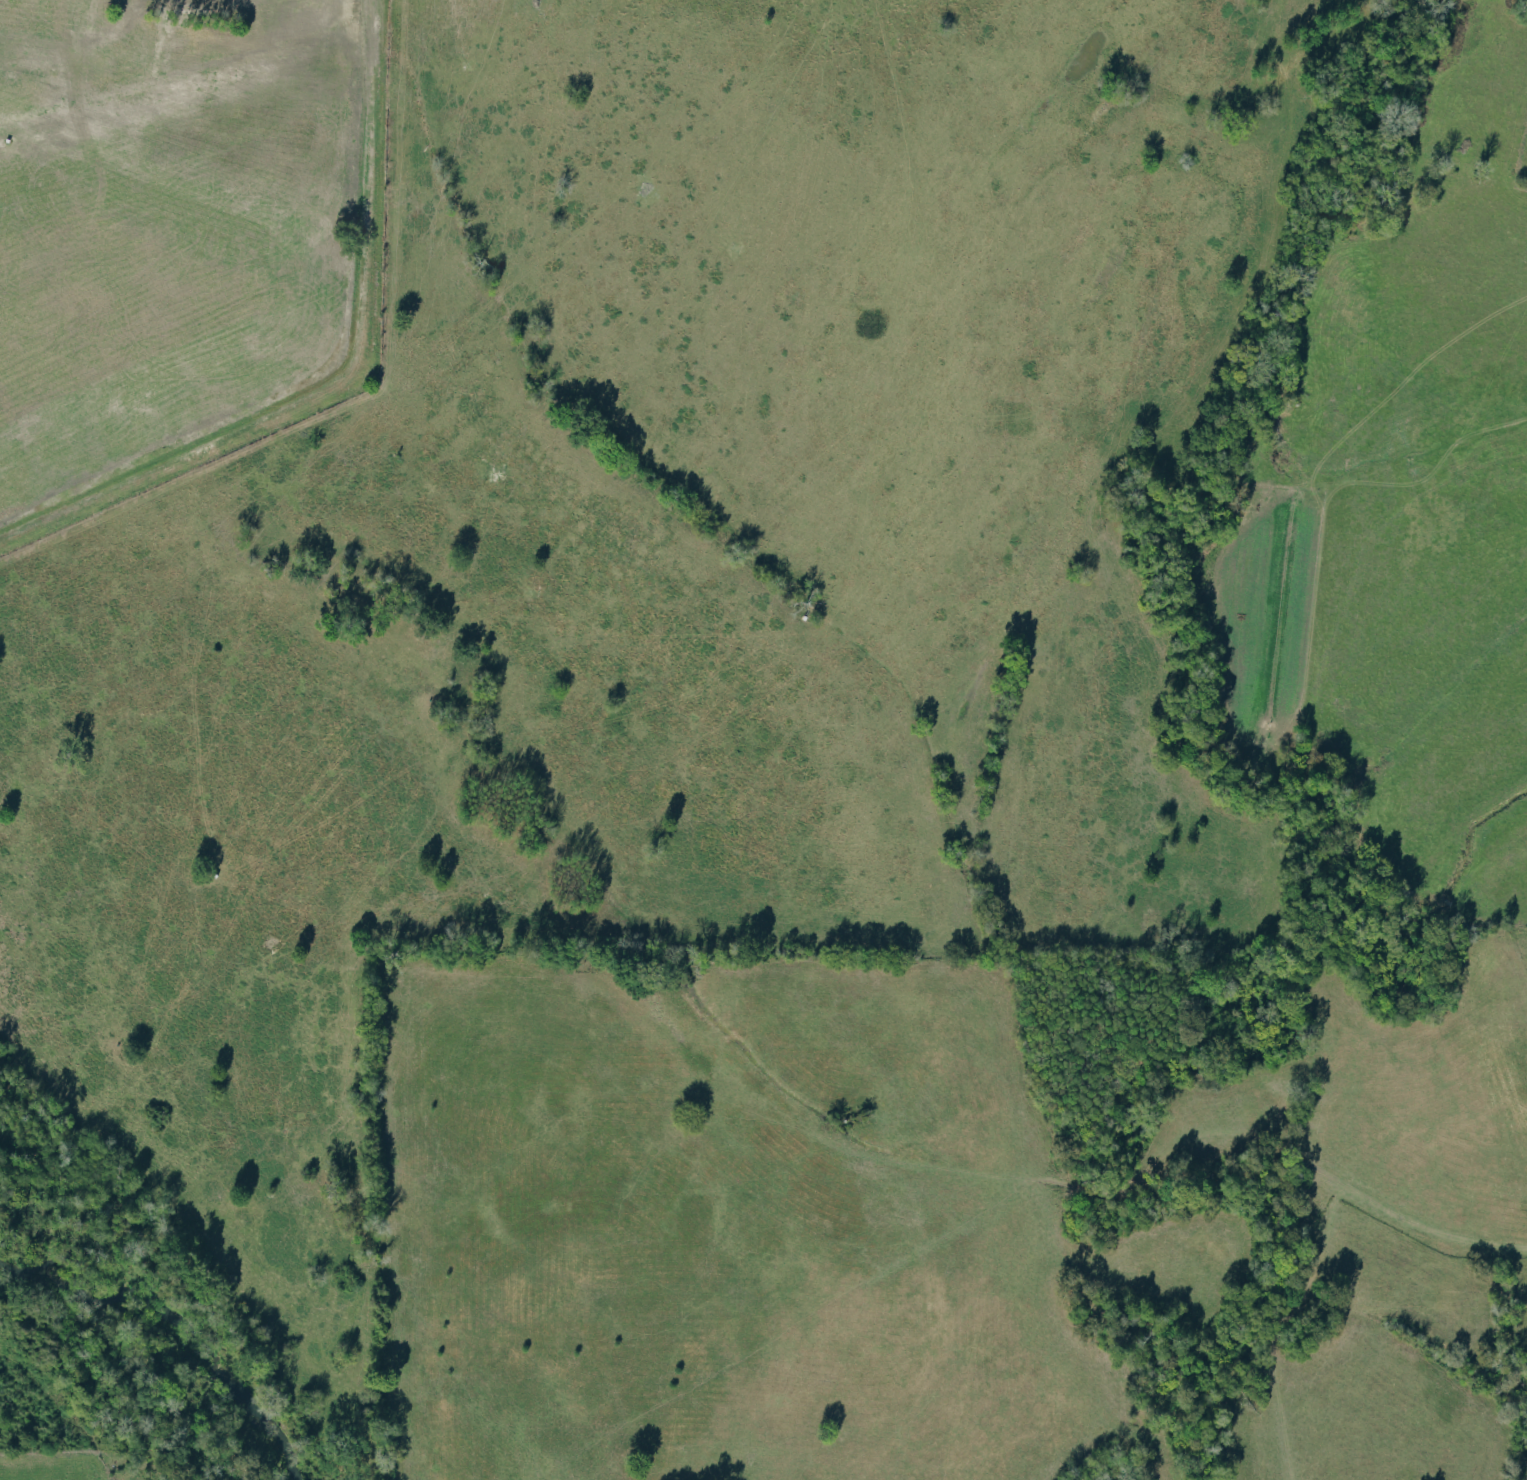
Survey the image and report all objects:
river: (185, 1314)

